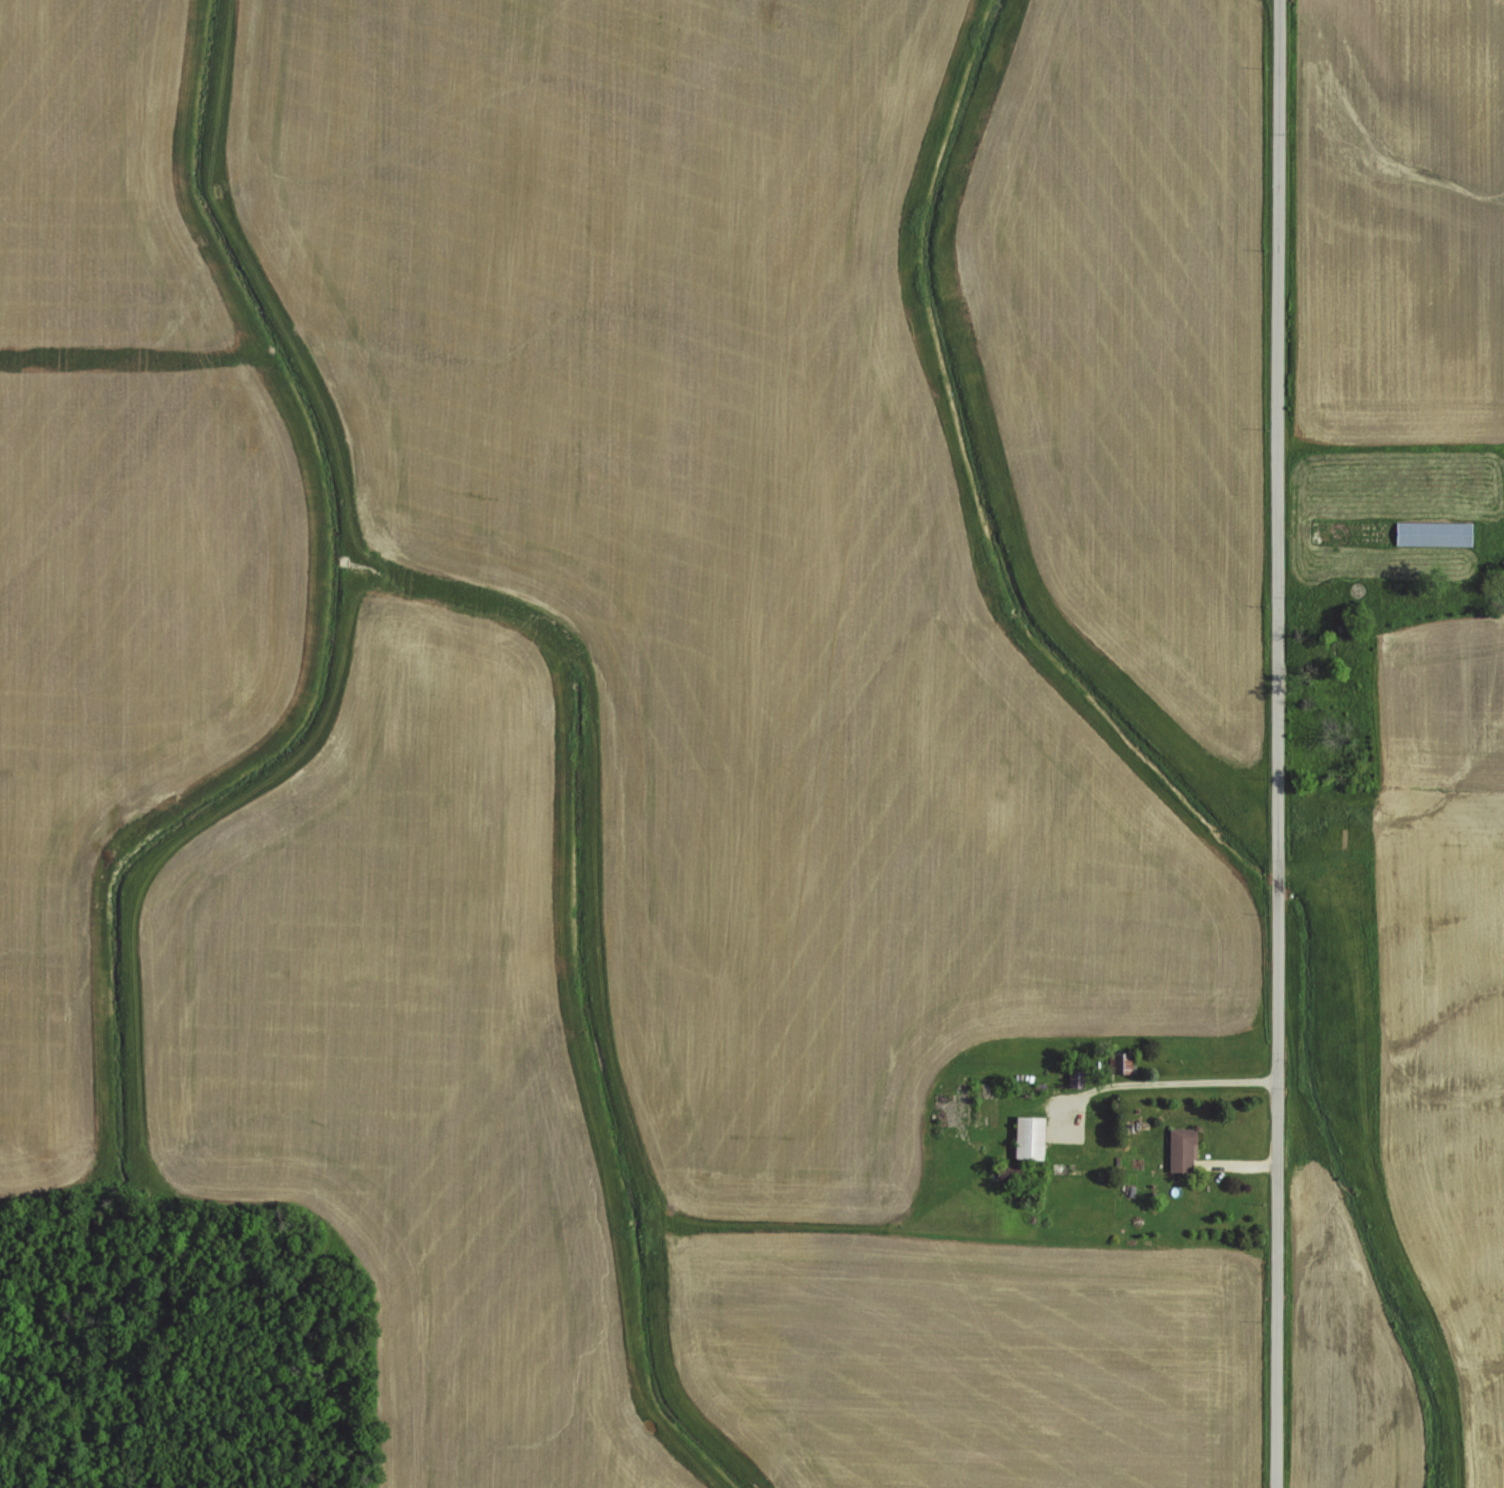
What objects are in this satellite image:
building: (1435, 534)
road: (1274, 744)
building: (1033, 1136)
building: (1184, 1147)

